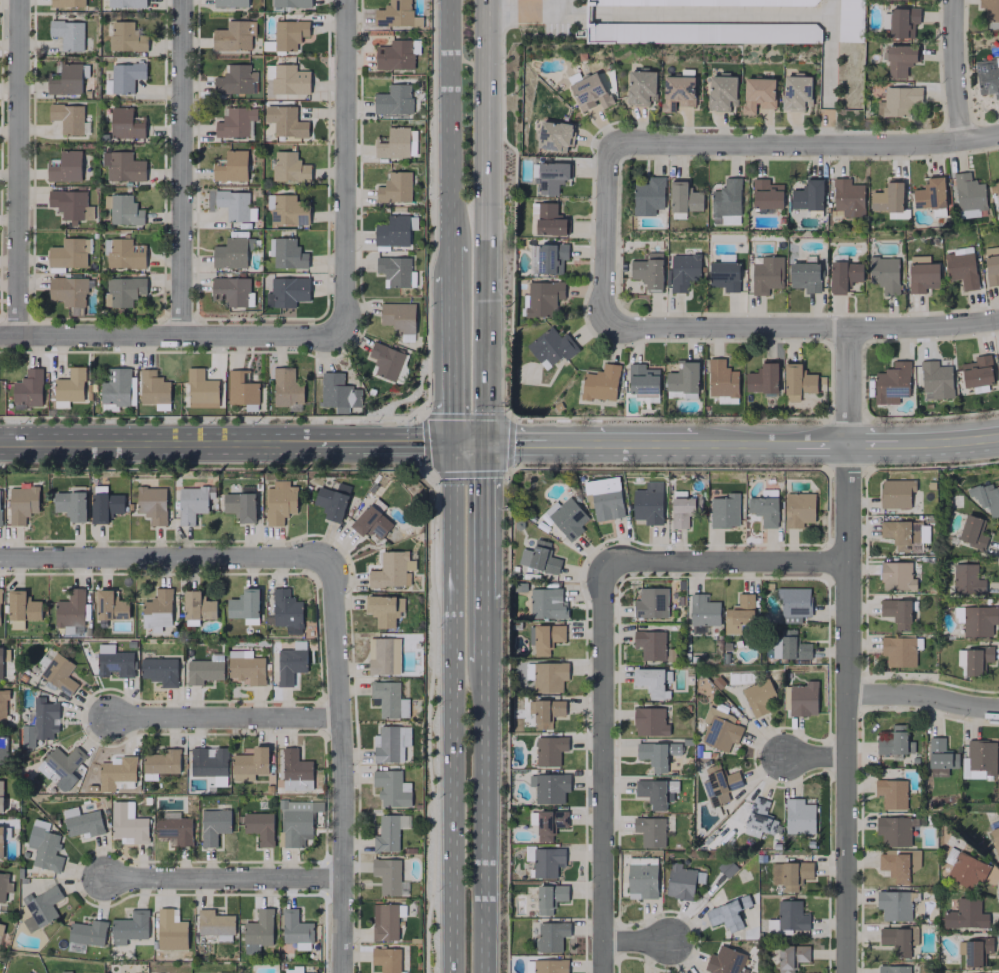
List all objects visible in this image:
building: (705, 2)
building: (66, 3)
building: (126, 3)
building: (230, 3)
building: (291, 3)
building: (990, 9)
road: (528, 12)
building: (394, 13)
road: (572, 13)
road: (588, 13)
road: (710, 14)
building: (851, 20)
building: (903, 22)
building: (702, 32)
building: (67, 34)
building: (288, 34)
building: (233, 35)
building: (126, 37)
building: (396, 55)
building: (899, 60)
road: (959, 70)
road: (827, 72)
building: (125, 76)
building: (987, 76)
building: (66, 80)
building: (234, 80)
building: (285, 80)
building: (640, 87)
building: (589, 92)
building: (677, 92)
building: (721, 92)
building: (795, 92)
building: (757, 94)
building: (393, 100)
building: (898, 101)
building: (67, 118)
building: (285, 121)
building: (235, 122)
road: (448, 122)
building: (126, 123)
building: (554, 136)
building: (394, 143)
road: (803, 144)
building: (122, 166)
building: (230, 166)
road: (348, 166)
road: (20, 167)
building: (64, 167)
road: (183, 167)
building: (289, 167)
building: (551, 177)
building: (394, 187)
building: (994, 189)
building: (766, 194)
building: (930, 194)
building: (648, 196)
building: (807, 196)
building: (968, 196)
building: (726, 198)
building: (848, 198)
building: (887, 198)
building: (233, 204)
building: (70, 205)
building: (124, 210)
building: (286, 210)
building: (549, 220)
building: (725, 220)
road: (483, 221)
building: (392, 231)
road: (608, 235)
building: (69, 253)
building: (230, 253)
building: (125, 254)
building: (288, 254)
building: (547, 258)
road: (449, 259)
building: (991, 265)
building: (961, 269)
building: (395, 271)
building: (648, 271)
building: (683, 271)
building: (766, 274)
building: (884, 274)
building: (921, 274)
building: (724, 275)
building: (804, 276)
building: (843, 276)
building: (124, 291)
building: (230, 291)
building: (287, 291)
building: (69, 293)
building: (543, 297)
building: (398, 317)
road: (803, 327)
road: (174, 334)
building: (551, 347)
building: (998, 352)
road: (450, 358)
building: (385, 361)
building: (976, 371)
building: (721, 379)
building: (762, 379)
building: (642, 380)
building: (682, 380)
building: (935, 380)
building: (797, 381)
building: (600, 383)
building: (891, 383)
road: (853, 385)
building: (70, 386)
building: (286, 387)
building: (28, 388)
building: (116, 388)
building: (153, 388)
building: (241, 388)
building: (201, 389)
building: (338, 393)
road: (948, 440)
road: (875, 442)
road: (155, 443)
road: (335, 443)
road: (405, 443)
traffic signals: (451, 443)
road: (467, 443)
traffic signals: (483, 443)
road: (515, 443)
road: (623, 443)
road: (745, 443)
road: (822, 443)
building: (896, 493)
building: (603, 498)
building: (986, 498)
building: (332, 501)
building: (279, 502)
building: (191, 503)
building: (647, 503)
building: (21, 504)
building: (151, 504)
building: (70, 505)
building: (104, 505)
building: (240, 506)
building: (798, 509)
building: (683, 510)
building: (763, 510)
building: (724, 511)
building: (566, 518)
building: (0, 523)
building: (371, 523)
road: (483, 523)
building: (972, 532)
road: (164, 557)
building: (539, 558)
road: (728, 562)
building: (392, 570)
building: (896, 576)
building: (967, 580)
building: (651, 603)
building: (546, 604)
building: (793, 604)
building: (110, 605)
building: (22, 606)
building: (197, 606)
building: (244, 606)
building: (70, 609)
building: (157, 610)
building: (384, 610)
building: (286, 611)
building: (703, 611)
building: (897, 612)
building: (739, 616)
building: (978, 620)
road: (483, 635)
building: (544, 638)
building: (649, 645)
building: (788, 646)
building: (900, 650)
building: (238, 654)
building: (380, 656)
building: (960, 658)
building: (976, 659)
building: (113, 661)
building: (0, 662)
building: (290, 663)
building: (204, 669)
building: (246, 670)
building: (159, 671)
building: (58, 673)
building: (549, 677)
building: (652, 682)
road: (925, 696)
building: (758, 697)
building: (388, 699)
building: (800, 699)
building: (2, 707)
road: (849, 707)
road: (451, 708)
building: (545, 712)
road: (225, 717)
building: (649, 721)
building: (40, 722)
building: (719, 729)
building: (893, 741)
building: (390, 743)
building: (3, 750)
building: (549, 750)
building: (656, 754)
building: (981, 756)
road: (817, 757)
building: (940, 757)
building: (61, 762)
building: (208, 762)
building: (160, 763)
building: (249, 764)
road: (339, 767)
road: (604, 767)
building: (295, 771)
building: (116, 773)
building: (975, 774)
building: (998, 776)
building: (719, 785)
building: (549, 787)
building: (391, 788)
building: (655, 792)
building: (891, 793)
building: (1, 795)
building: (798, 817)
building: (759, 819)
road: (482, 820)
building: (296, 821)
building: (81, 822)
building: (127, 823)
building: (549, 824)
building: (213, 826)
building: (259, 827)
building: (173, 829)
building: (895, 830)
building: (650, 831)
building: (386, 834)
building: (995, 838)
building: (1, 841)
building: (43, 846)
building: (547, 862)
building: (898, 865)
building: (964, 868)
building: (790, 875)
building: (388, 877)
road: (221, 880)
building: (641, 881)
building: (680, 881)
building: (4, 885)
building: (549, 898)
building: (895, 904)
building: (40, 908)
building: (727, 913)
building: (965, 915)
building: (791, 916)
building: (384, 922)
building: (214, 923)
building: (129, 927)
building: (295, 927)
building: (1, 928)
building: (258, 929)
building: (170, 930)
building: (87, 933)
building: (551, 936)
building: (898, 940)
road: (638, 943)
building: (973, 951)
building: (791, 957)
building: (386, 959)
building: (725, 961)
building: (549, 966)
building: (893, 969)
building: (64, 971)
building: (26, 972)

